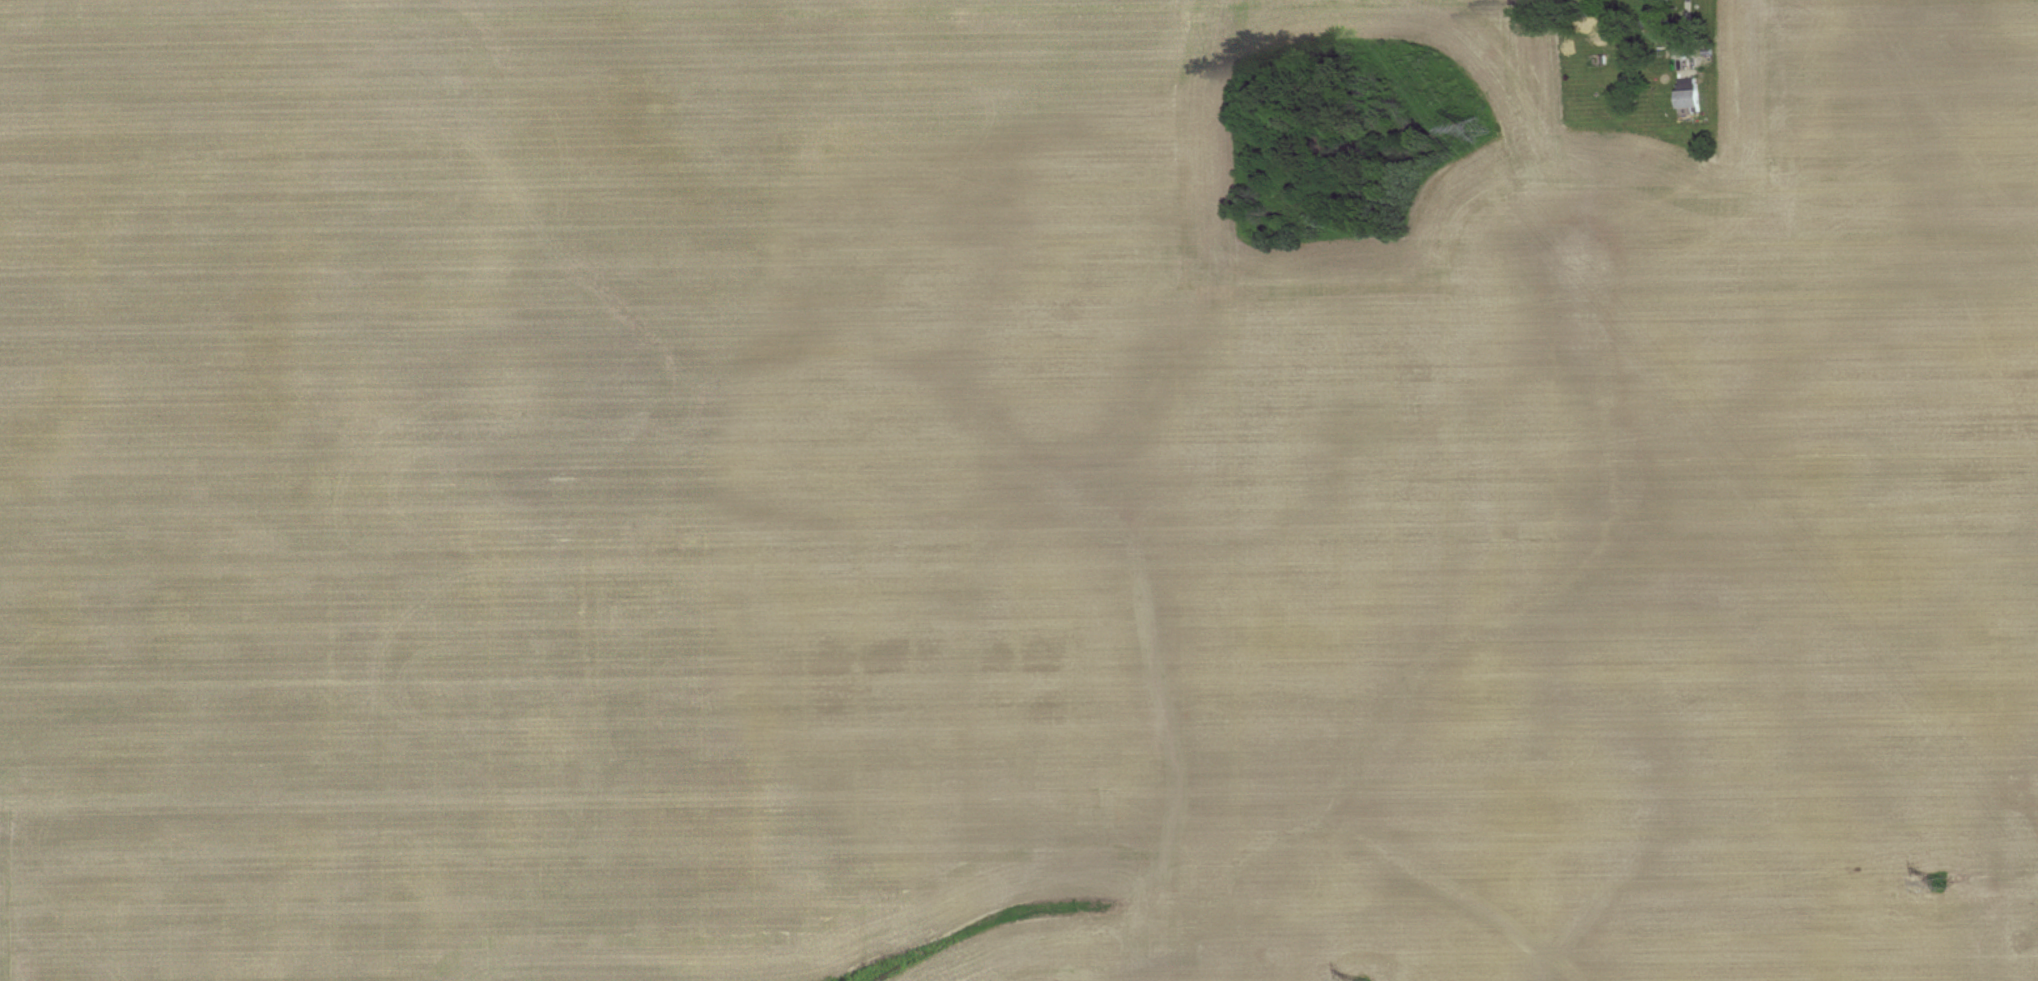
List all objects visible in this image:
road: (1688, 23)
building: (1691, 97)
power tower: (1483, 128)

